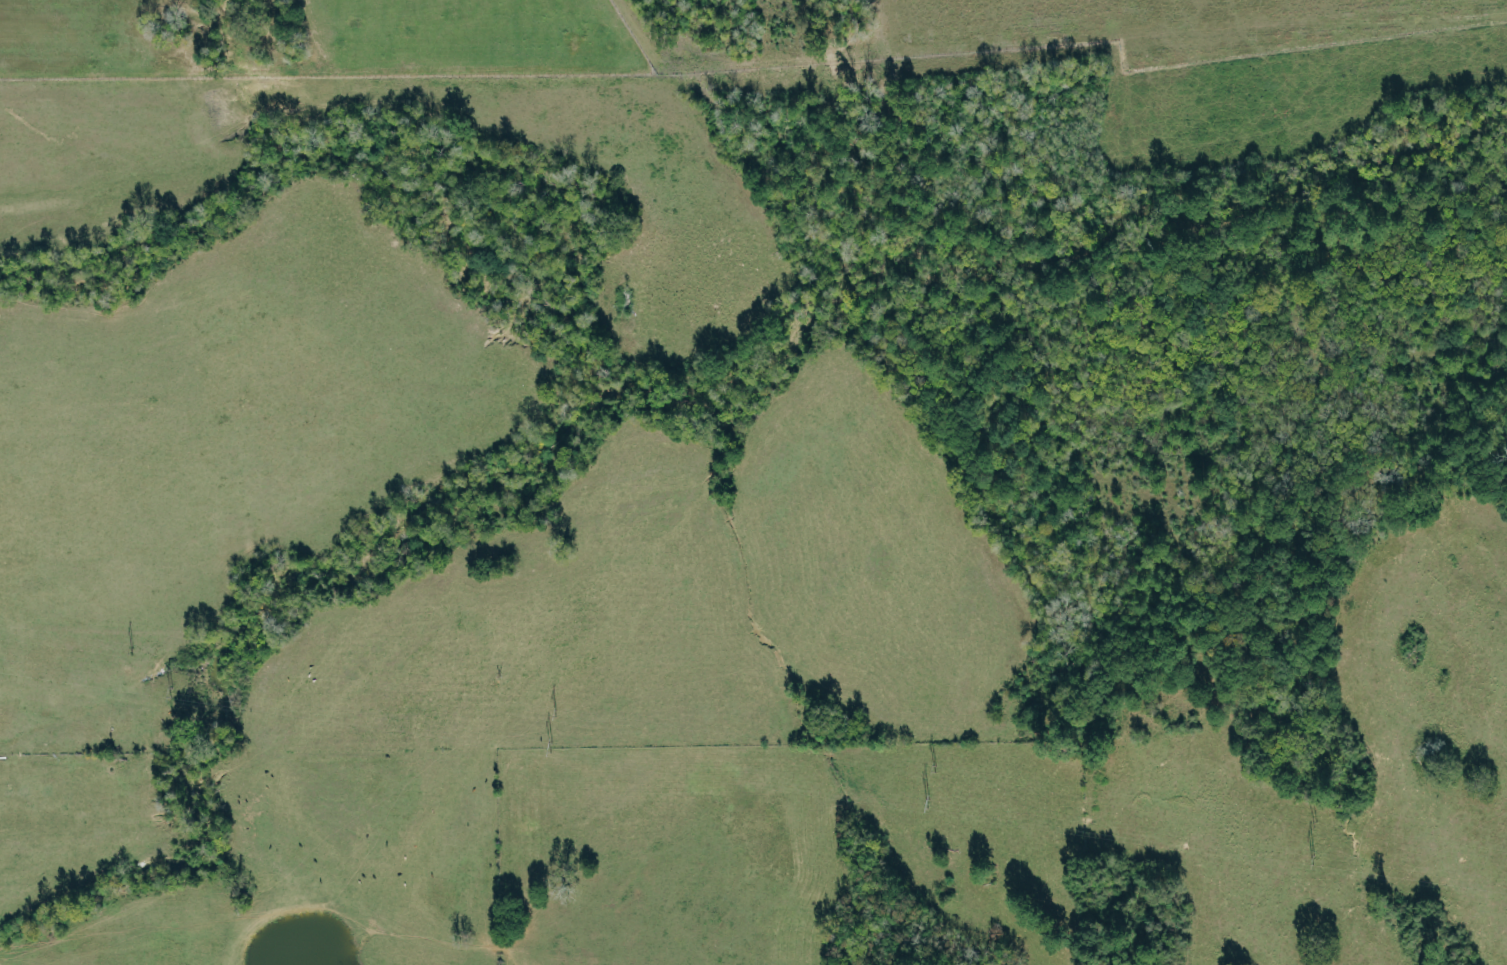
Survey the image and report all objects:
power tower: (171, 692)
power tower: (547, 745)
power tower: (926, 802)
power tower: (1312, 858)

